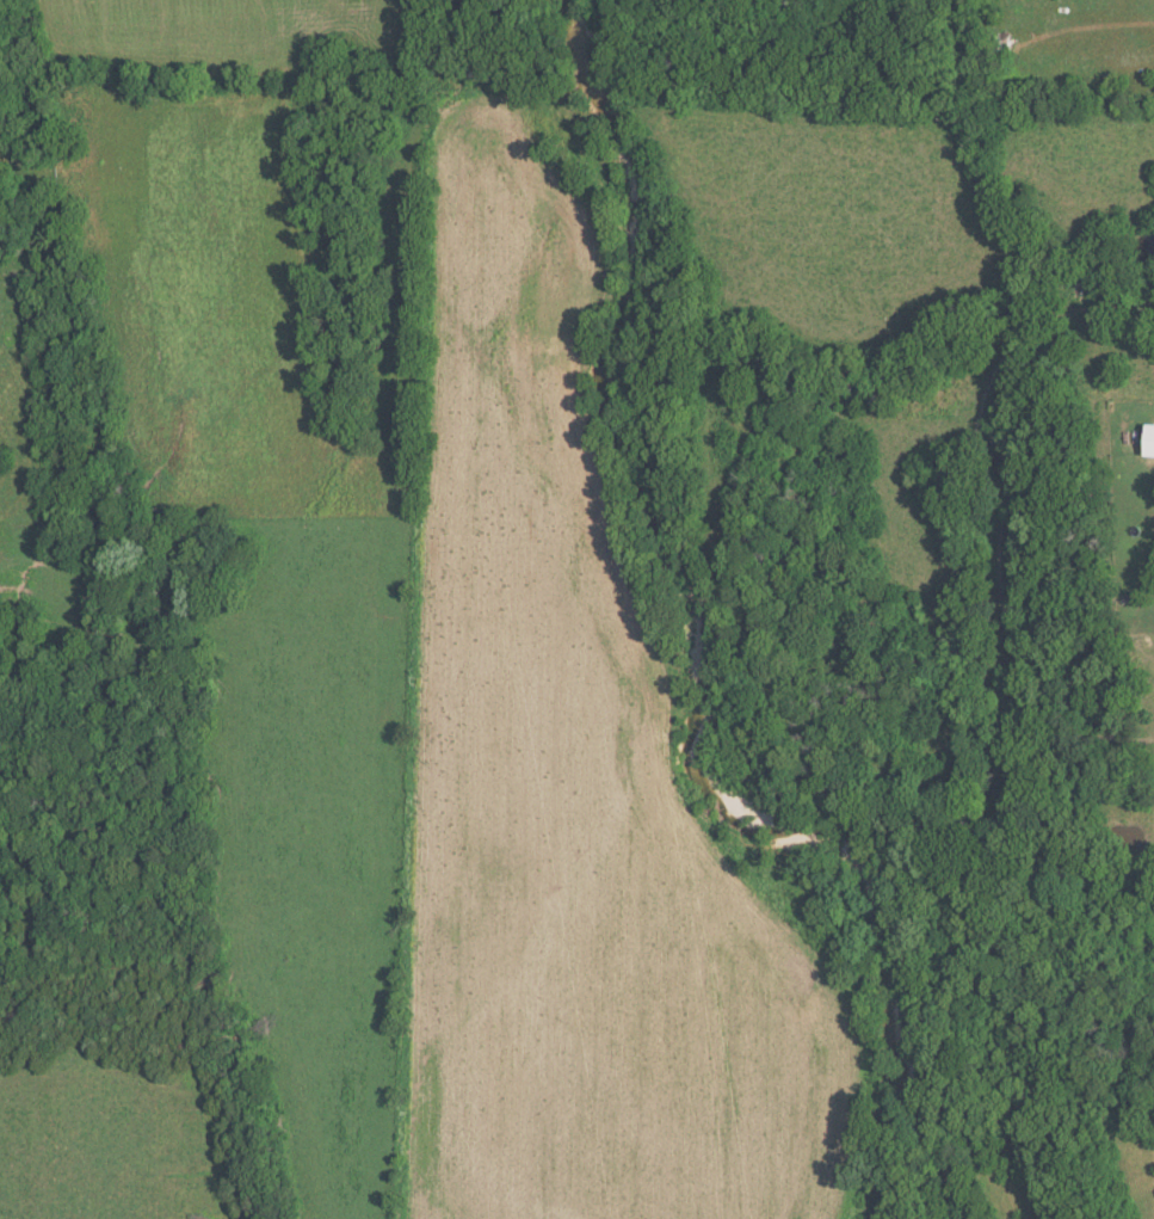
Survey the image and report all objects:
building: (1001, 432)
building: (1149, 441)

